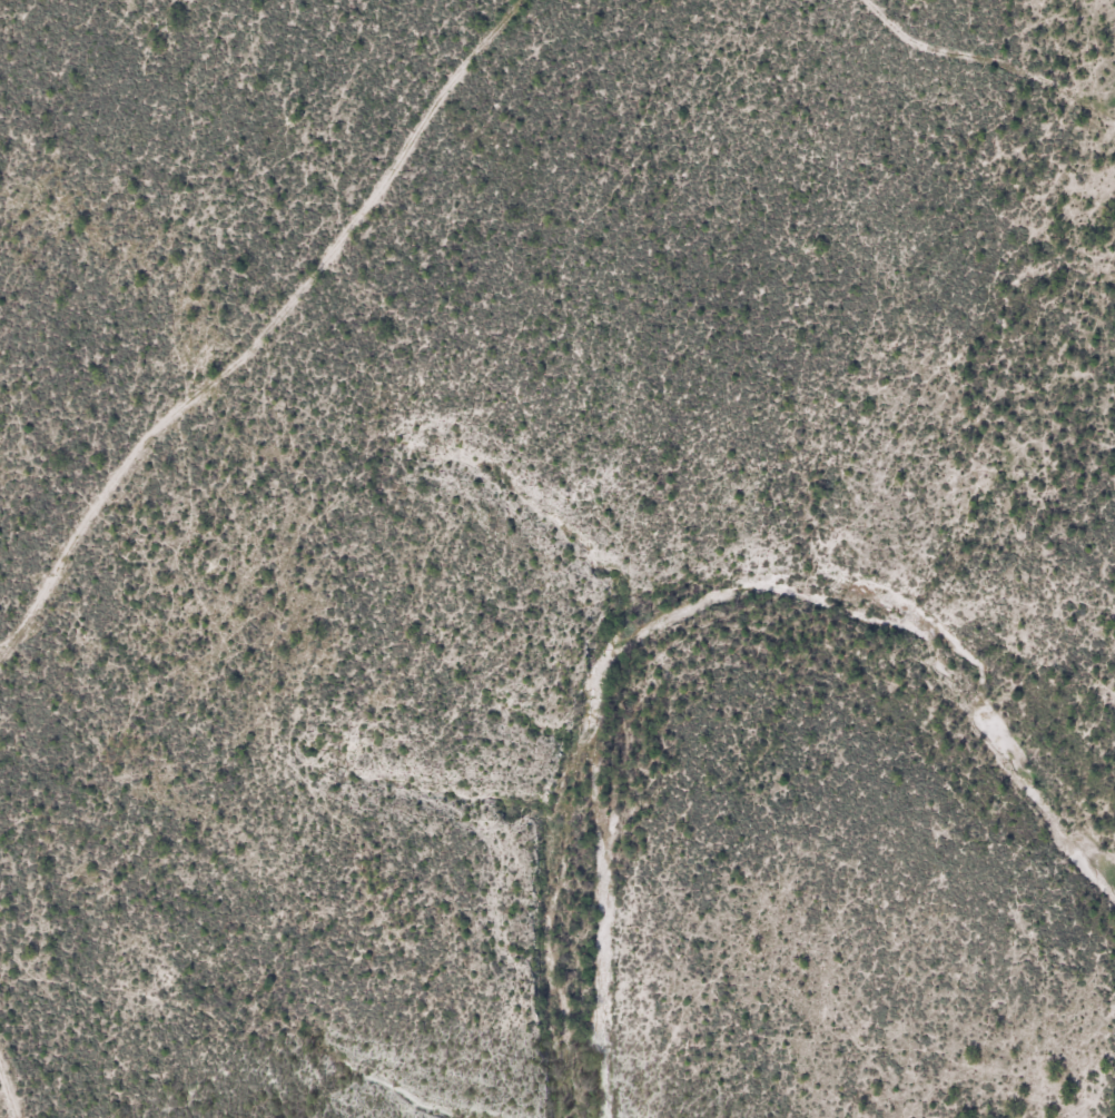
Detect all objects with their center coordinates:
road: (266, 340)
road: (12, 1087)

